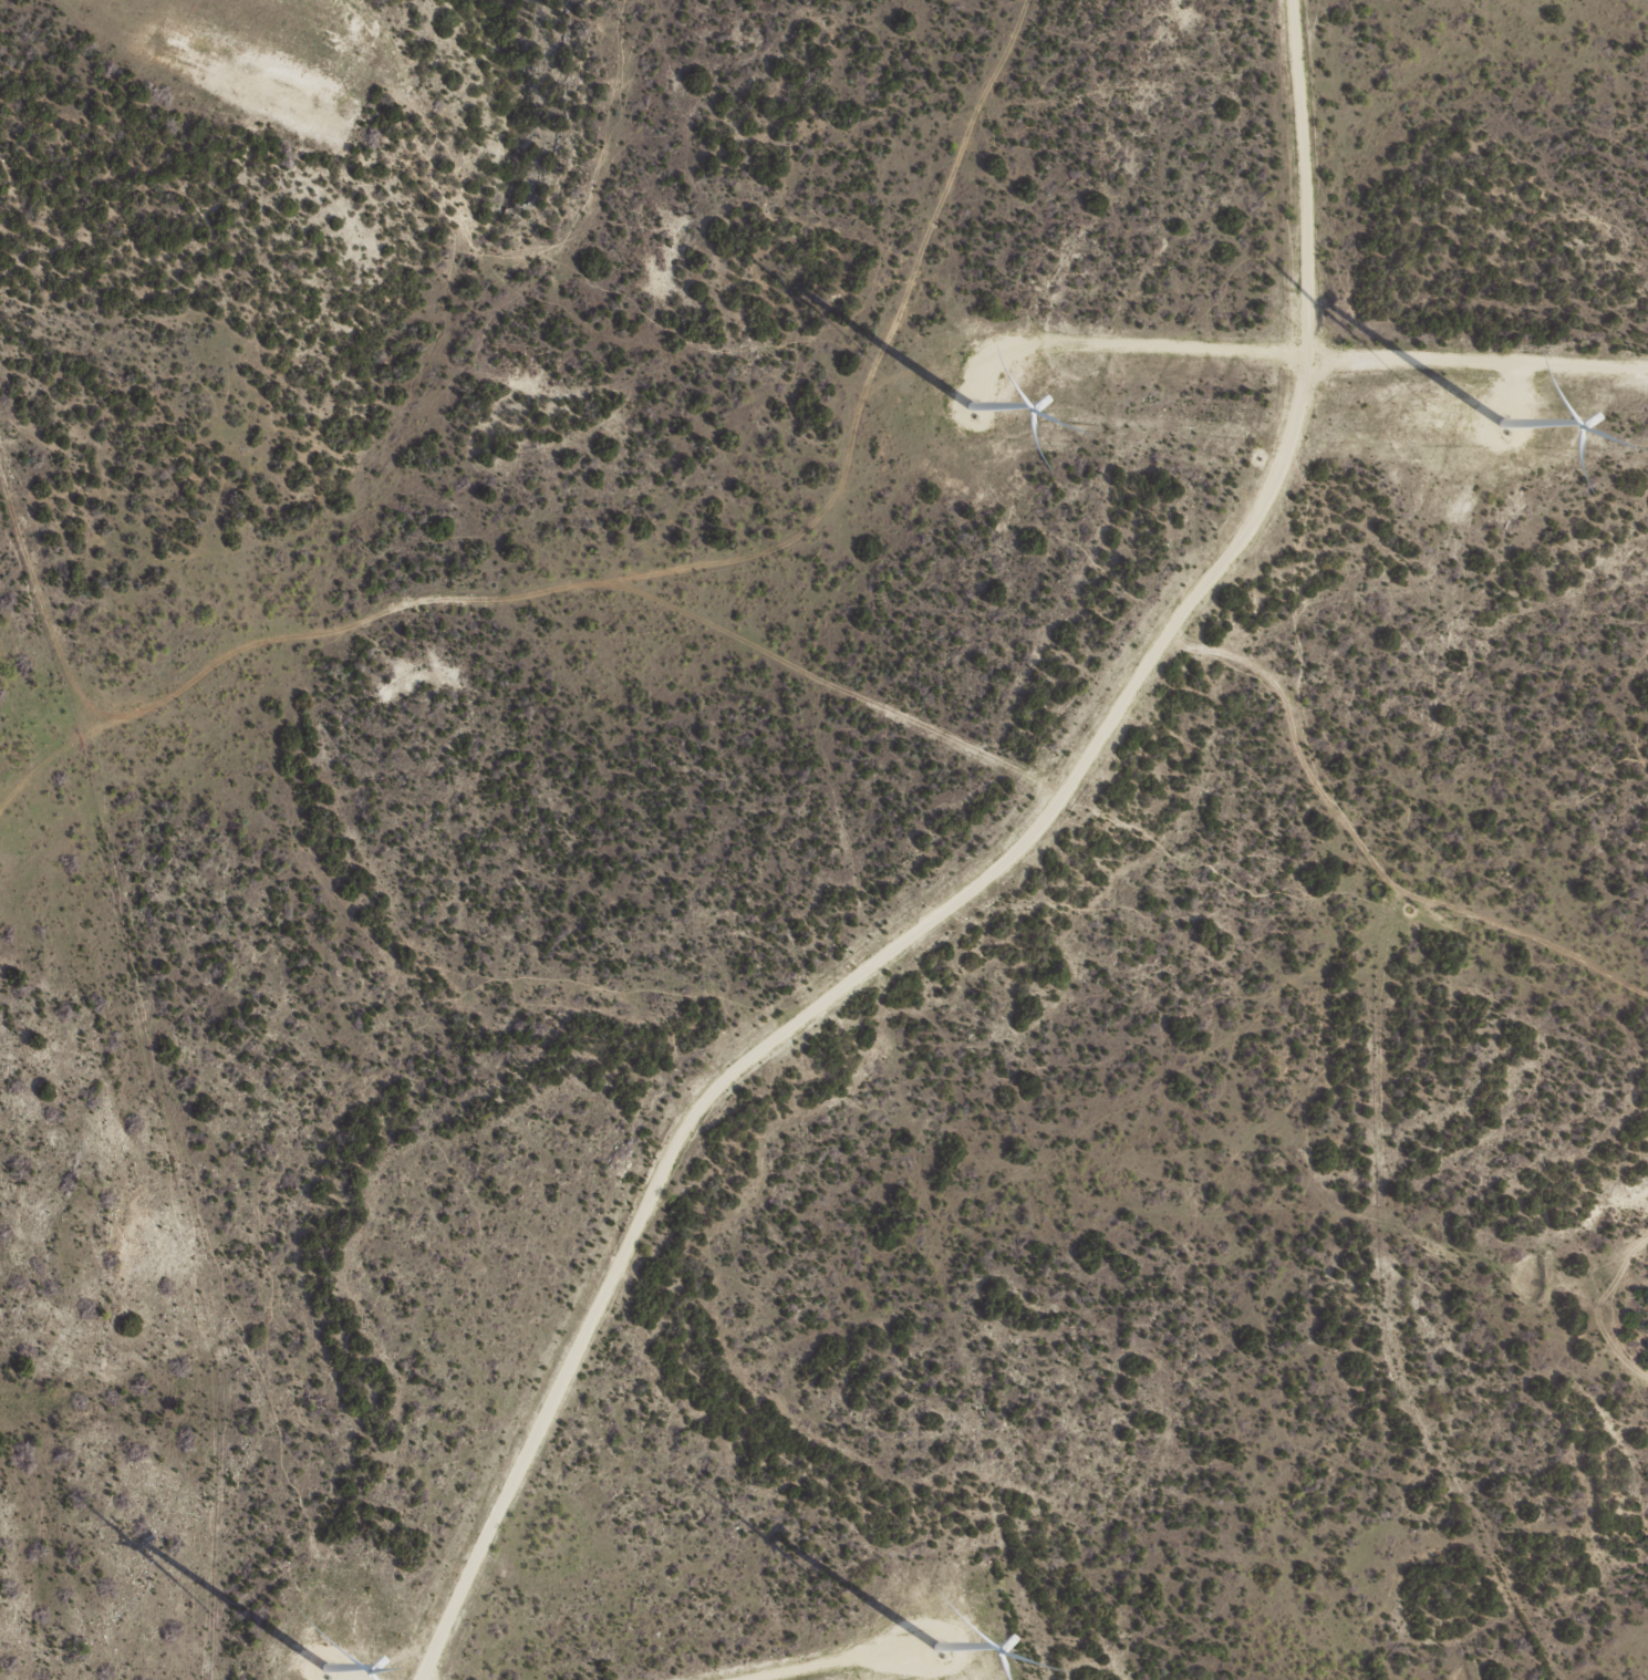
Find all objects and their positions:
wind turbine: (975, 383)
wind turbine: (1509, 436)
road: (665, 587)
wind turbine: (950, 1647)
wind turbine: (311, 1652)

